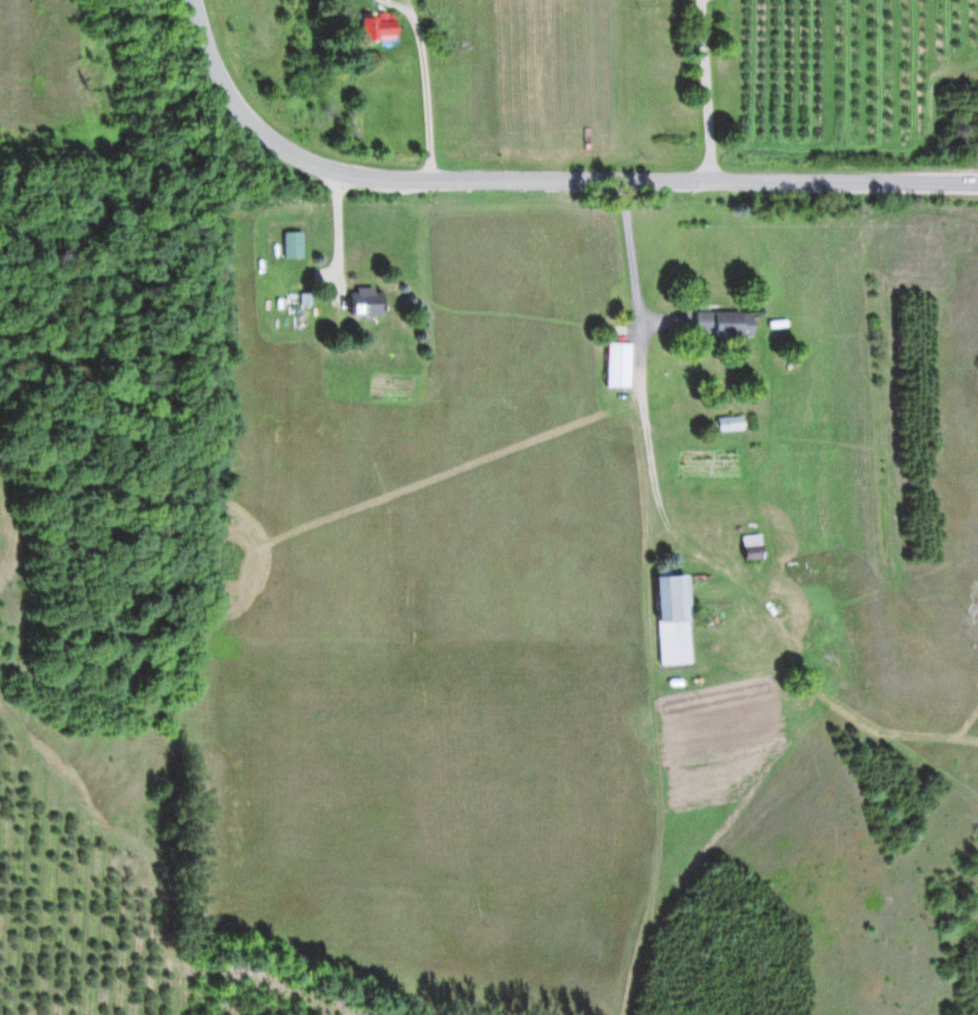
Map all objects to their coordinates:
building: (387, 29)
road: (424, 83)
road: (538, 178)
building: (368, 301)
building: (734, 322)
building: (620, 363)
road: (646, 399)
building: (731, 422)
building: (754, 546)
building: (675, 618)

